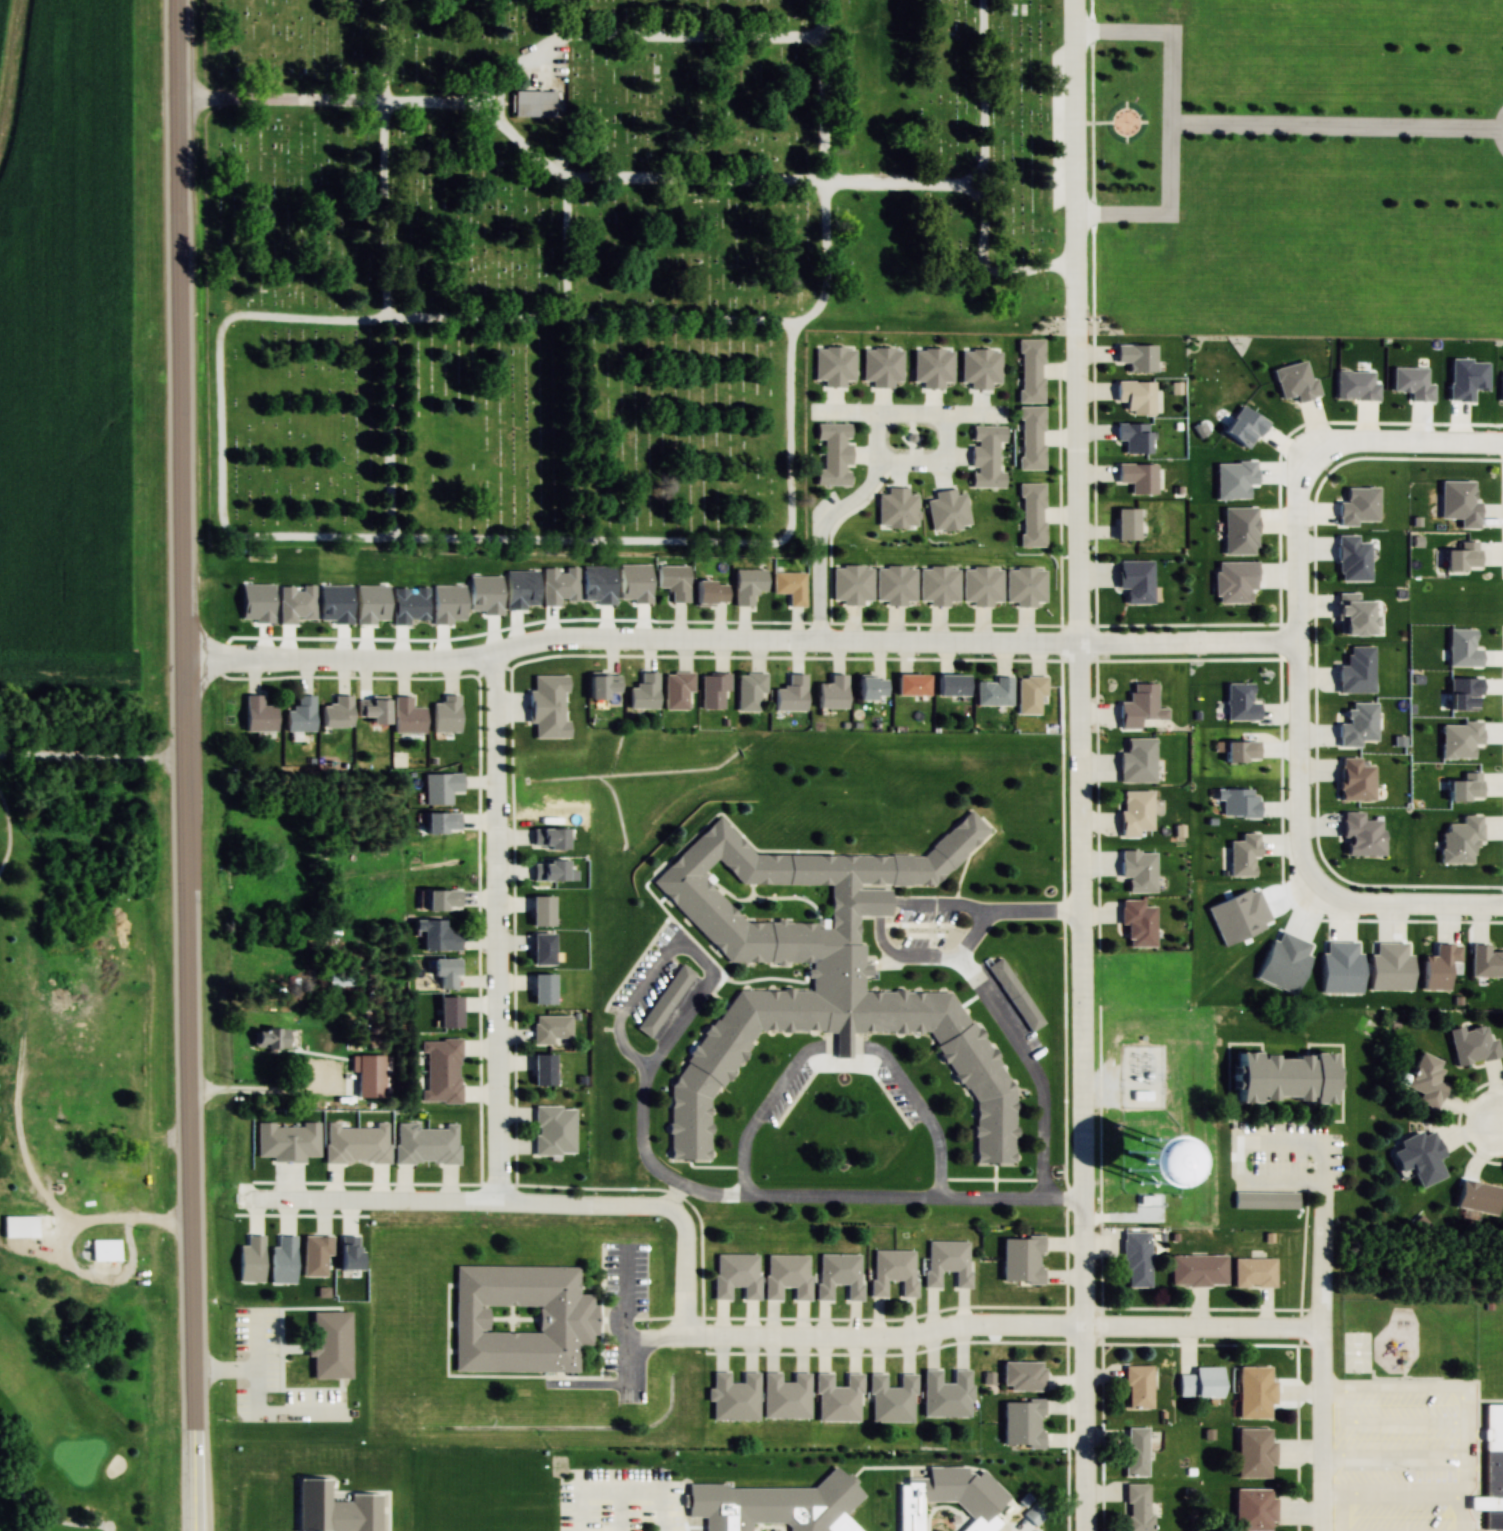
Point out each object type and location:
road: (562, 19)
road: (282, 101)
building: (544, 107)
road: (823, 117)
road: (542, 162)
road: (827, 267)
park: (631, 271)
road: (1028, 290)
road: (388, 318)
road: (306, 321)
building: (1137, 356)
building: (1030, 369)
building: (1175, 387)
building: (1136, 395)
road: (392, 425)
building: (1132, 435)
building: (1030, 436)
road: (1398, 448)
building: (1137, 475)
road: (229, 512)
building: (1031, 513)
building: (1125, 523)
road: (396, 535)
road: (722, 544)
building: (674, 581)
building: (1135, 581)
building: (981, 584)
building: (747, 585)
building: (852, 585)
building: (895, 585)
building: (938, 585)
building: (791, 587)
building: (1024, 587)
building: (708, 592)
road: (736, 638)
road: (1295, 679)
building: (910, 684)
building: (600, 686)
building: (948, 686)
building: (545, 688)
building: (710, 688)
building: (869, 688)
building: (675, 690)
building: (750, 692)
building: (643, 693)
building: (831, 693)
building: (991, 693)
building: (791, 694)
building: (1029, 695)
building: (1136, 704)
building: (371, 710)
building: (335, 714)
building: (445, 714)
building: (256, 715)
building: (300, 715)
building: (405, 716)
road: (91, 759)
building: (1136, 760)
road: (182, 765)
road: (1078, 765)
building: (439, 788)
building: (1134, 813)
road: (9, 829)
building: (1178, 830)
road: (1410, 900)
building: (539, 909)
building: (1136, 921)
road: (494, 926)
building: (434, 934)
building: (540, 947)
building: (1485, 962)
building: (816, 966)
building: (1439, 967)
building: (443, 970)
building: (541, 987)
building: (664, 1000)
building: (446, 1010)
building: (549, 1027)
building: (268, 1037)
building: (1471, 1044)
building: (541, 1068)
building: (441, 1071)
building: (1280, 1076)
building: (1425, 1079)
road: (252, 1093)
road: (1500, 1121)
building: (552, 1128)
building: (424, 1142)
building: (355, 1143)
park: (72, 1154)
building: (1136, 1157)
building: (1424, 1159)
water tower: (1150, 1163)
road: (816, 1196)
building: (1477, 1196)
road: (459, 1201)
building: (18, 1226)
building: (104, 1249)
building: (1135, 1258)
building: (1020, 1259)
building: (946, 1261)
building: (1197, 1269)
road: (683, 1270)
building: (892, 1270)
building: (1252, 1272)
building: (838, 1274)
building: (735, 1275)
building: (786, 1275)
building: (519, 1318)
road: (1003, 1327)
road: (1323, 1341)
building: (328, 1344)
building: (1021, 1375)
building: (1200, 1383)
building: (1137, 1386)
building: (1254, 1392)
building: (945, 1393)
building: (784, 1396)
building: (733, 1397)
building: (837, 1398)
building: (891, 1398)
building: (1021, 1423)
building: (1134, 1451)
building: (1254, 1452)
building: (1491, 1470)
building: (912, 1505)
building: (1137, 1507)
building: (332, 1509)
building: (1253, 1509)
building: (1033, 1514)
road: (61, 1521)
building: (835, 1521)
building: (979, 1523)
building: (521, 1529)

